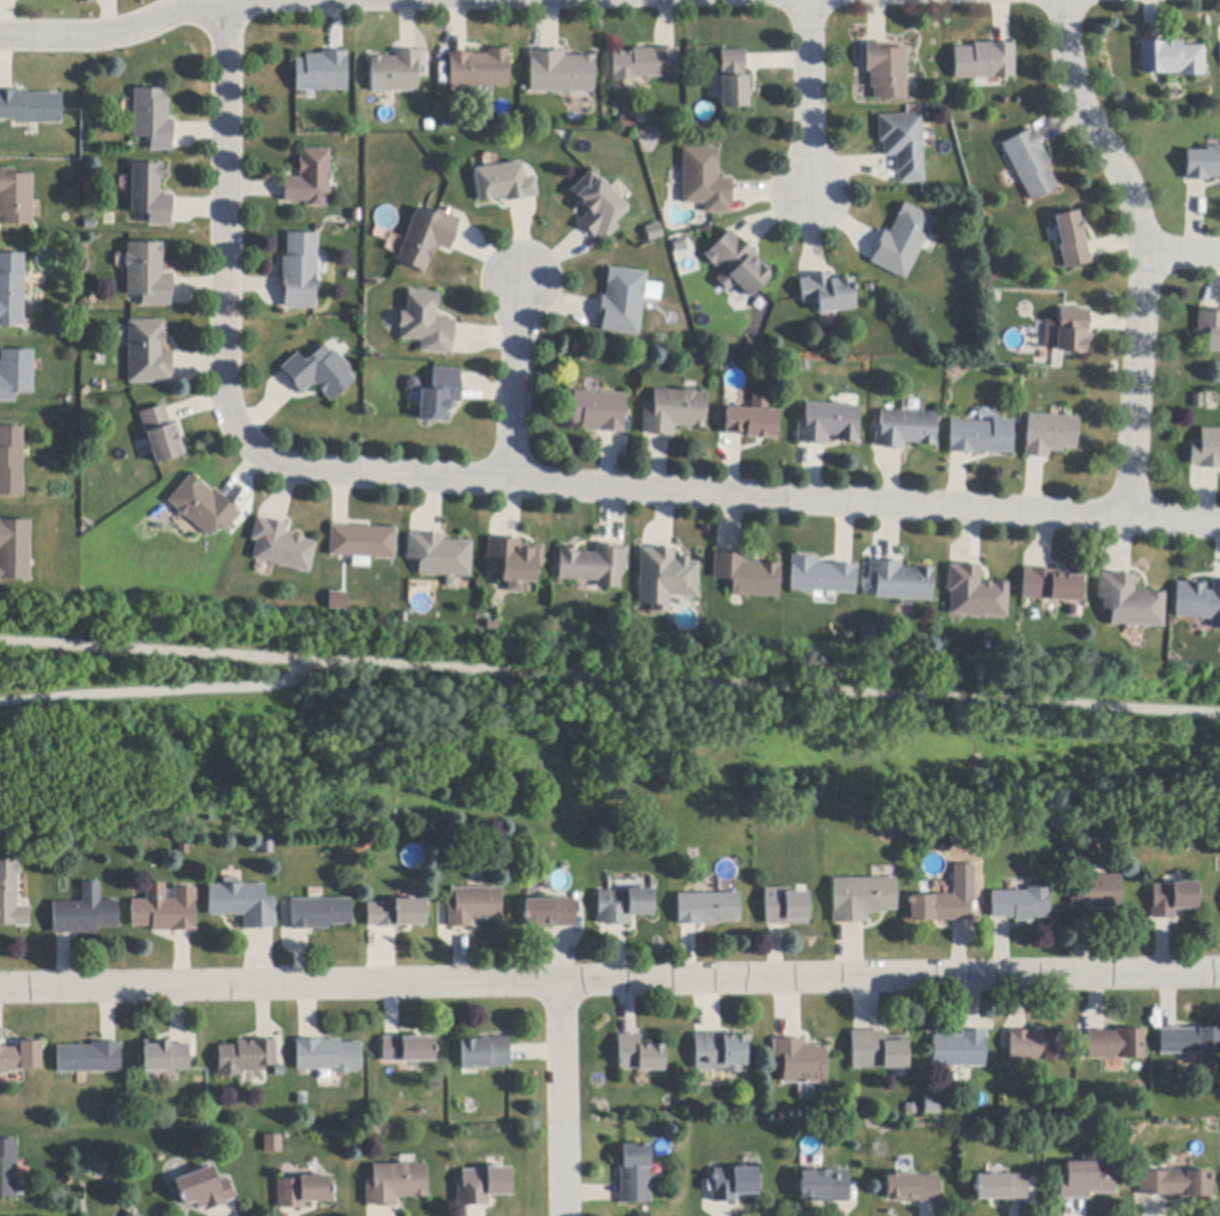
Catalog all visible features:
road: (110, 34)
building: (1171, 59)
building: (983, 62)
building: (645, 63)
building: (479, 69)
building: (886, 72)
building: (322, 73)
building: (395, 73)
building: (560, 73)
building: (733, 80)
road: (809, 97)
building: (30, 108)
building: (152, 118)
building: (627, 122)
building: (903, 145)
building: (1030, 165)
building: (1202, 165)
building: (309, 180)
building: (704, 181)
building: (504, 183)
building: (150, 195)
building: (16, 199)
building: (597, 208)
building: (654, 232)
building: (426, 238)
building: (1070, 241)
building: (902, 242)
road: (1145, 253)
road: (1183, 254)
building: (738, 266)
building: (299, 272)
building: (147, 275)
building: (11, 290)
building: (827, 293)
building: (623, 303)
building: (425, 324)
building: (1210, 329)
building: (1072, 332)
building: (147, 354)
building: (318, 372)
building: (16, 376)
road: (515, 383)
building: (441, 395)
building: (600, 411)
building: (674, 412)
building: (751, 422)
building: (828, 424)
building: (905, 430)
building: (162, 434)
building: (1049, 436)
building: (981, 437)
building: (1207, 450)
building: (11, 461)
road: (506, 481)
building: (202, 507)
building: (362, 542)
building: (280, 547)
building: (14, 551)
building: (439, 555)
building: (514, 563)
building: (594, 566)
building: (747, 576)
building: (821, 577)
building: (664, 578)
building: (899, 582)
building: (1051, 585)
building: (975, 594)
building: (334, 598)
building: (1129, 602)
building: (1198, 603)
building: (869, 637)
road: (609, 677)
road: (157, 692)
building: (11, 896)
building: (1095, 896)
building: (861, 899)
building: (1172, 900)
building: (243, 905)
building: (1021, 905)
building: (473, 906)
building: (623, 906)
building: (784, 907)
building: (940, 908)
building: (706, 910)
building: (84, 913)
building: (166, 913)
building: (548, 913)
building: (320, 914)
building: (396, 914)
road: (609, 985)
building: (1190, 1041)
building: (1116, 1045)
building: (1037, 1046)
building: (407, 1050)
building: (959, 1050)
building: (876, 1051)
building: (718, 1052)
building: (484, 1053)
building: (638, 1054)
building: (327, 1056)
building: (20, 1057)
building: (165, 1057)
building: (89, 1058)
building: (244, 1058)
building: (799, 1062)
road: (559, 1101)
building: (931, 1105)
building: (273, 1144)
building: (8, 1169)
building: (633, 1175)
building: (1087, 1179)
building: (395, 1185)
building: (732, 1185)
building: (1176, 1185)
building: (481, 1186)
building: (824, 1186)
building: (1001, 1187)
building: (912, 1188)
building: (202, 1190)
building: (303, 1192)
building: (132, 1214)

